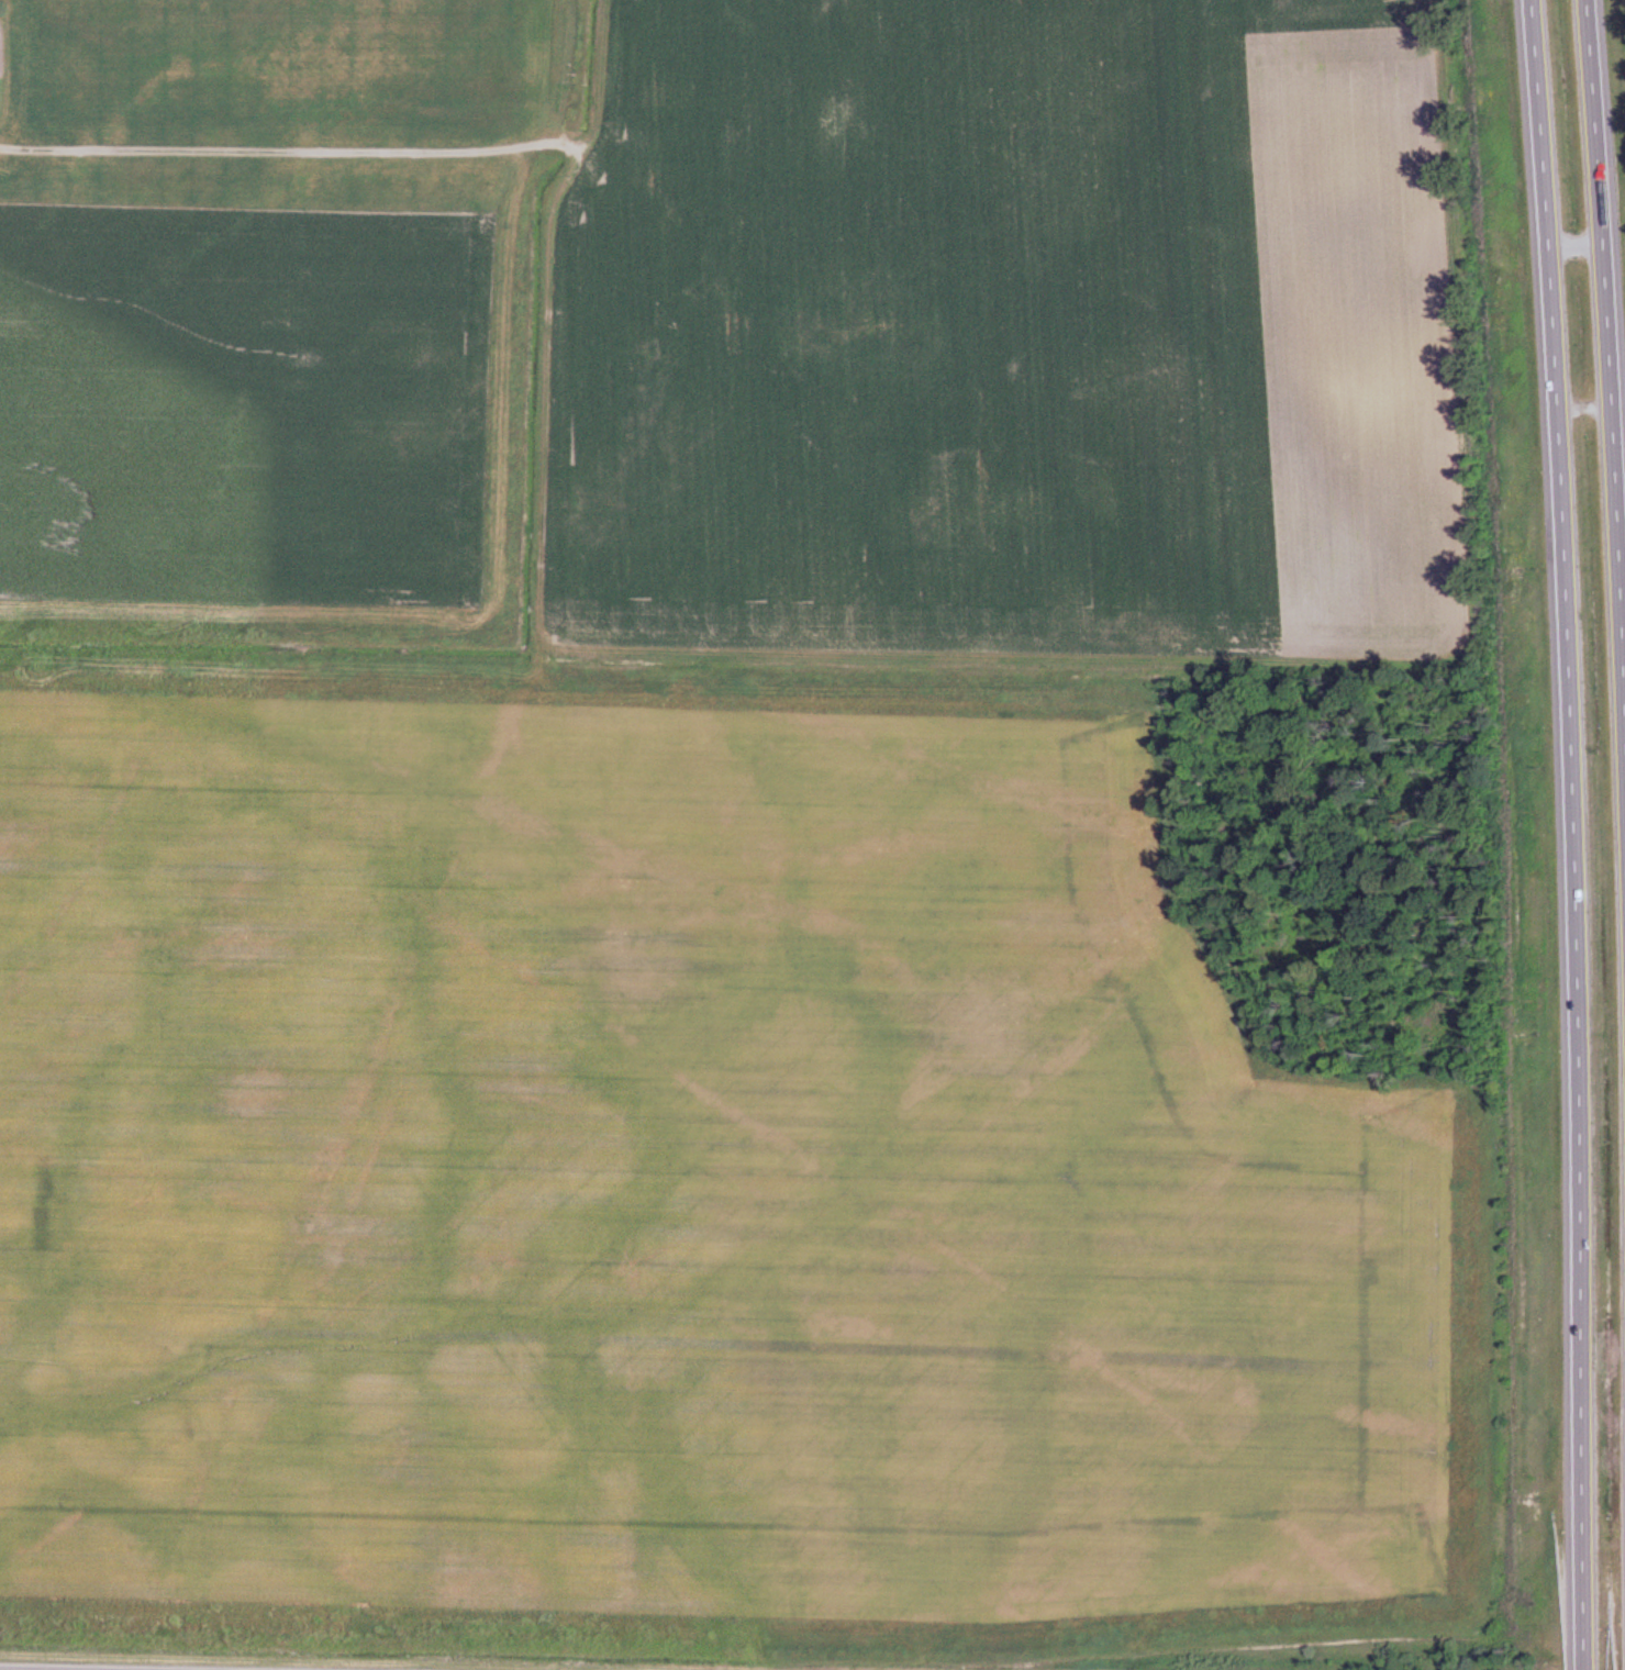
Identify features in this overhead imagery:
road: (602, 77)
road: (552, 146)
crop: (305, 202)
road: (1577, 248)
crop: (1009, 335)
road: (1607, 349)
crop: (242, 405)
road: (537, 708)
road: (1576, 834)
crop: (693, 1185)

